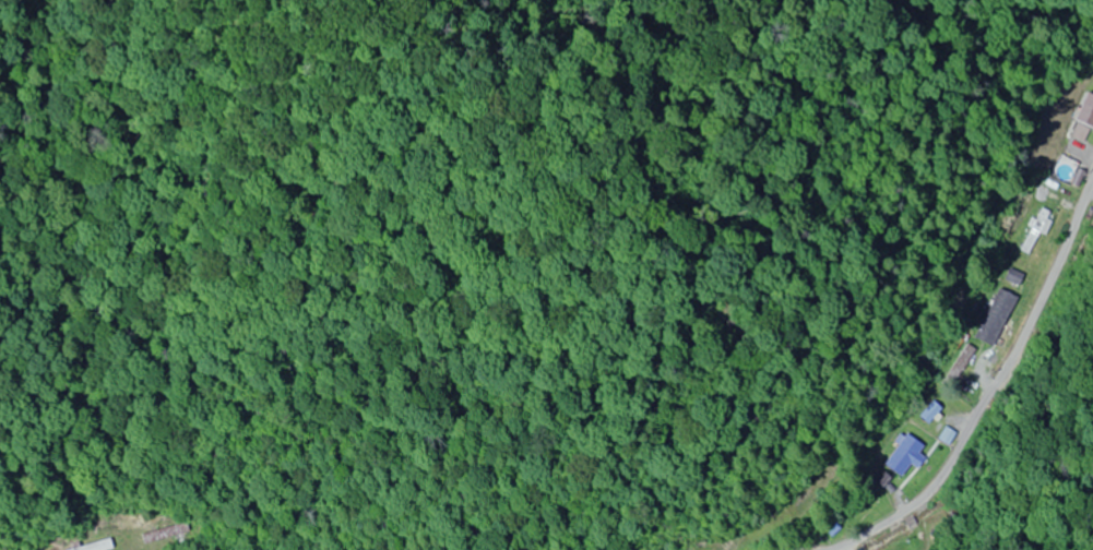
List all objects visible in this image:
building: (1084, 117)
building: (1065, 170)
building: (1037, 230)
building: (996, 318)
road: (988, 360)
building: (958, 362)
building: (904, 455)

